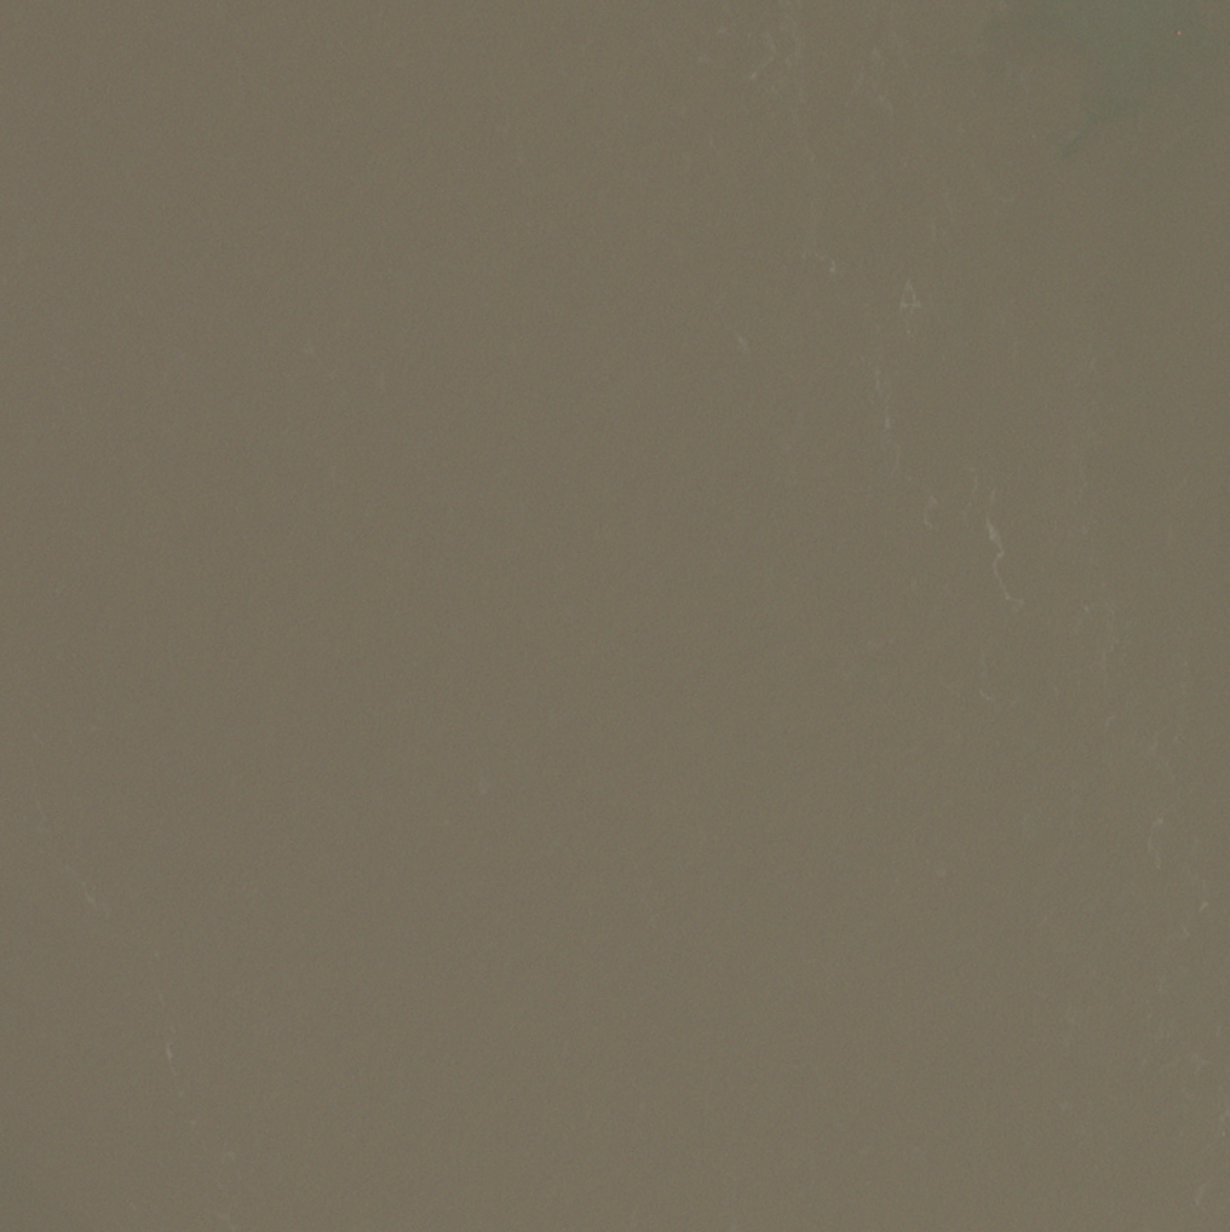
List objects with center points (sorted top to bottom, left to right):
river: (460, 605)

